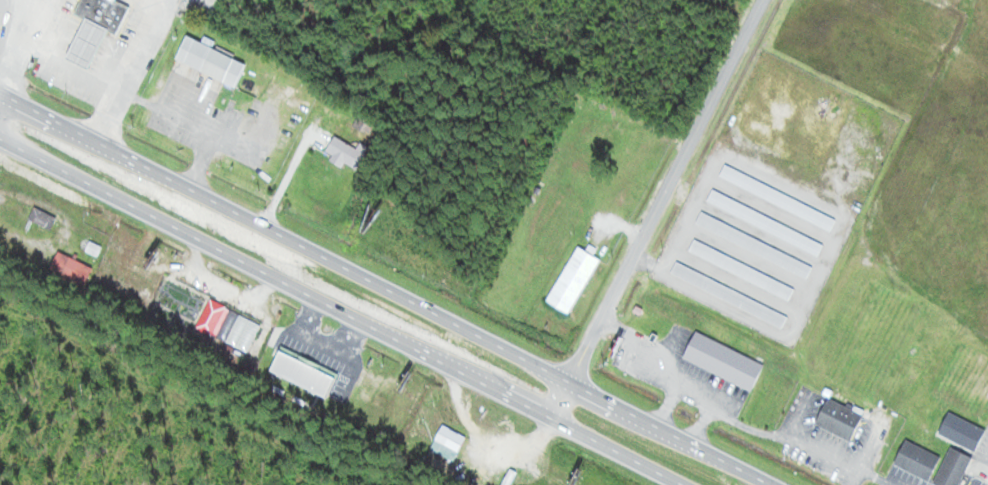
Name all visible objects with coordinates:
building: (102, 14)
building: (1, 15)
building: (210, 62)
road: (0, 95)
building: (365, 123)
building: (346, 153)
building: (777, 198)
road: (648, 210)
building: (42, 218)
building: (765, 223)
building: (71, 269)
building: (741, 271)
building: (572, 281)
road: (383, 289)
building: (729, 296)
building: (177, 300)
road: (340, 312)
building: (228, 326)
building: (723, 362)
building: (302, 373)
building: (839, 418)
building: (917, 460)

